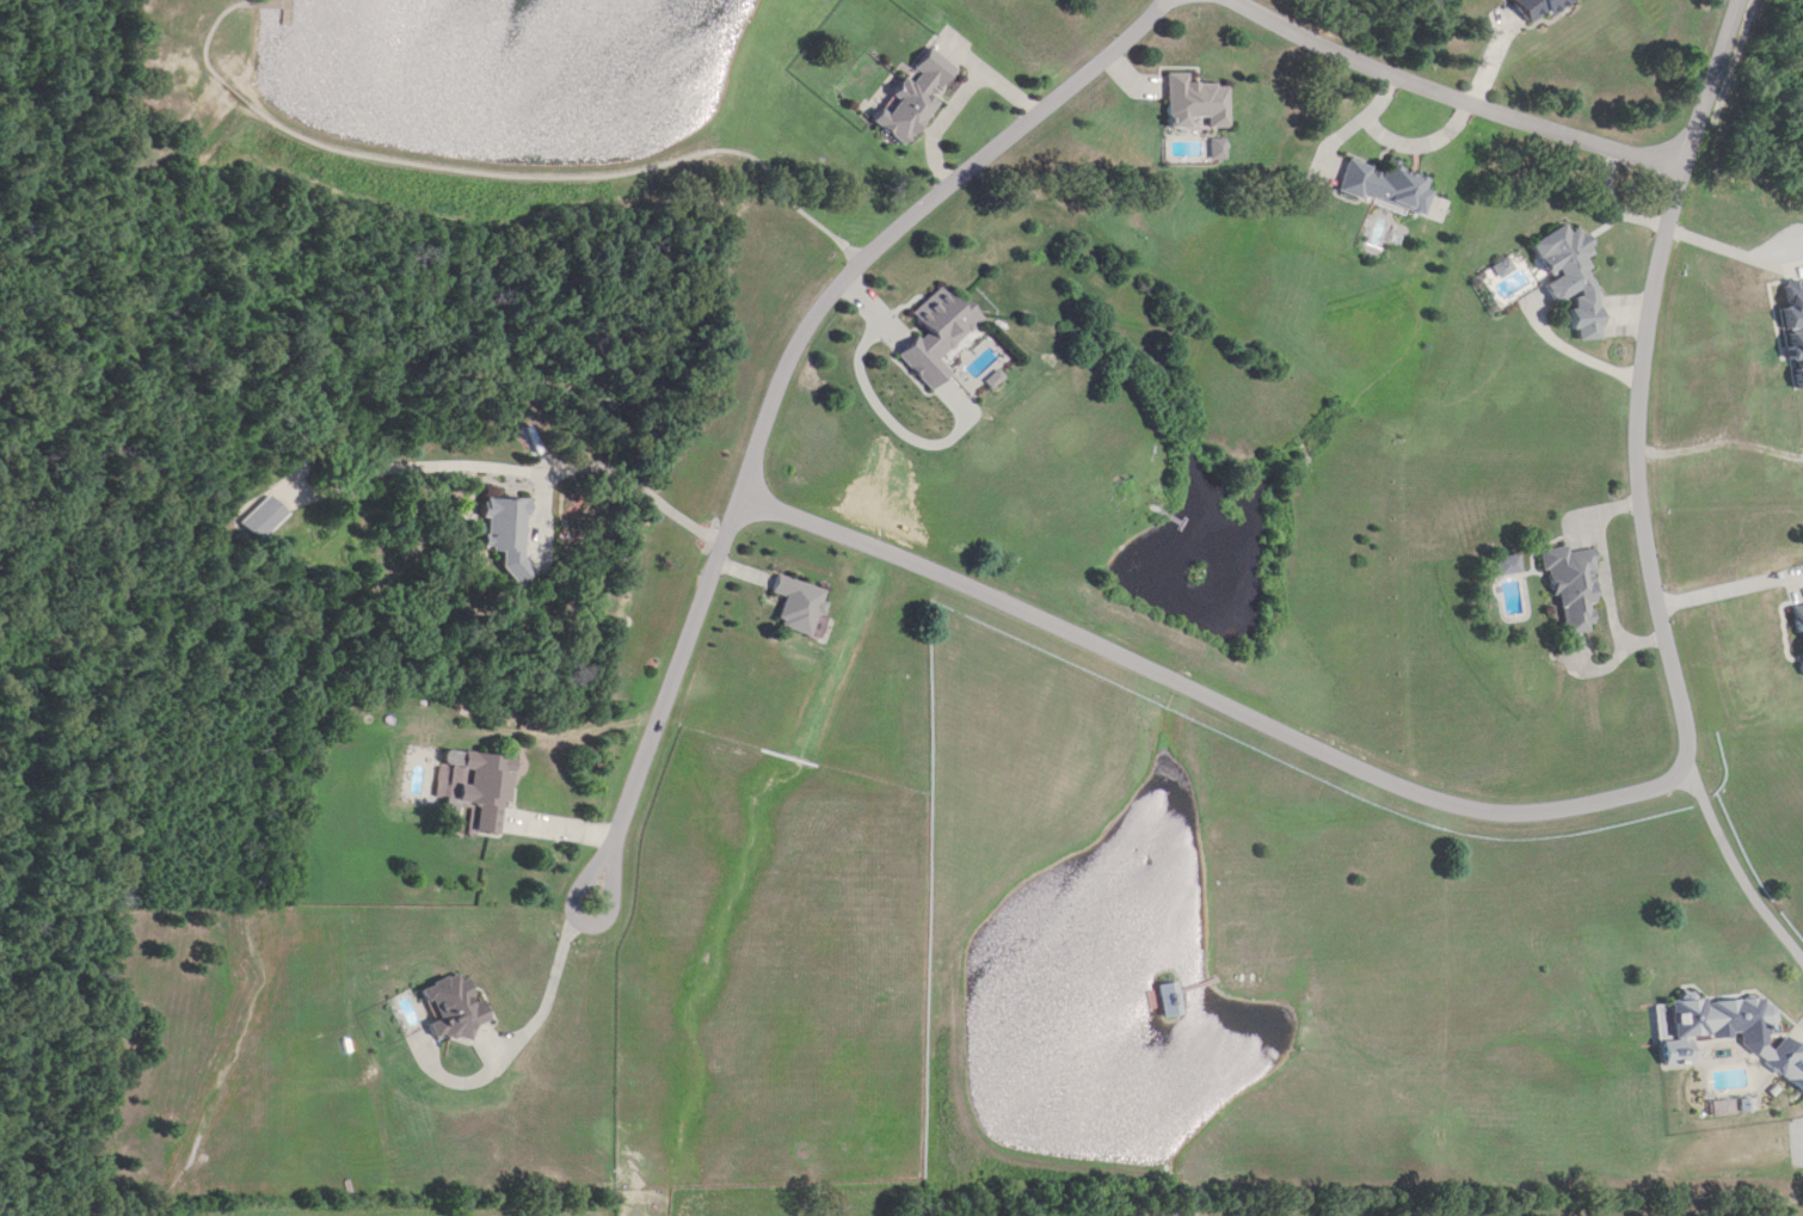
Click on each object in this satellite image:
building: (1551, 7)
road: (1448, 96)
building: (913, 98)
building: (1195, 103)
road: (497, 179)
building: (1387, 184)
building: (1571, 278)
building: (1793, 332)
building: (935, 334)
road: (1638, 385)
road: (517, 472)
road: (741, 490)
building: (263, 517)
building: (507, 535)
building: (1506, 565)
building: (1570, 586)
building: (798, 604)
road: (123, 608)
road: (1208, 702)
building: (485, 787)
road: (1743, 885)
road: (609, 901)
building: (1169, 1000)
building: (451, 1008)
building: (1713, 1024)

